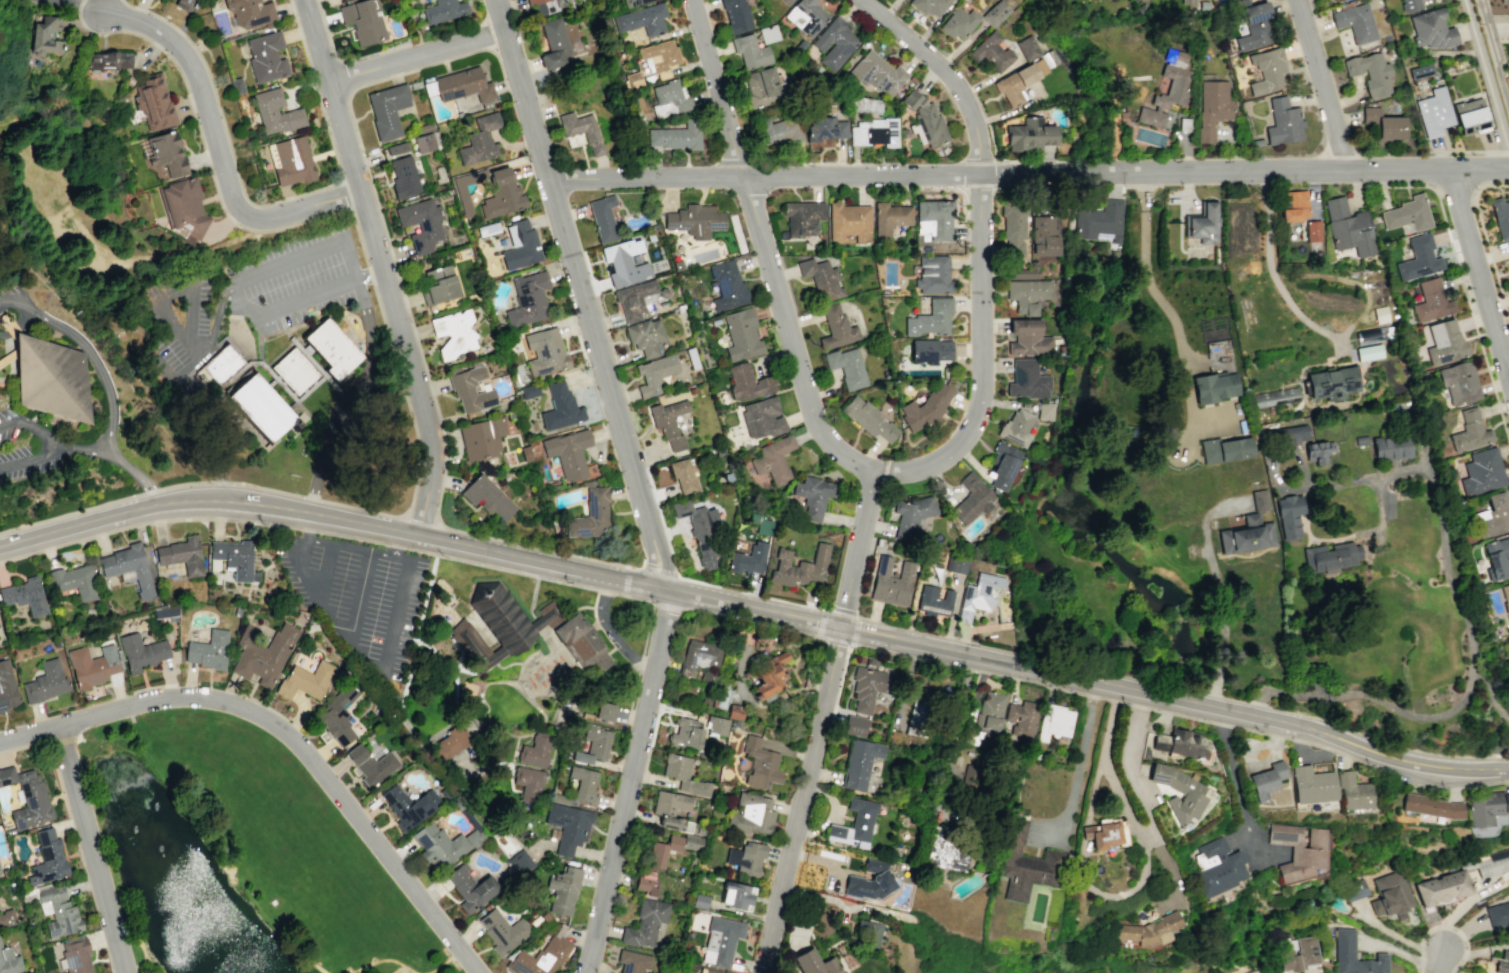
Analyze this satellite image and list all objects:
building: (1340, 0)
building: (1503, 0)
building: (633, 2)
building: (786, 2)
building: (1187, 2)
building: (184, 4)
building: (1409, 5)
road: (81, 6)
building: (540, 6)
building: (930, 7)
building: (444, 10)
building: (995, 11)
building: (250, 13)
building: (736, 15)
building: (806, 16)
building: (642, 19)
building: (363, 20)
building: (959, 21)
building: (1355, 22)
building: (1508, 23)
building: (1255, 24)
building: (1431, 29)
building: (47, 33)
building: (834, 43)
building: (554, 44)
building: (1028, 47)
road: (410, 51)
building: (750, 51)
building: (992, 51)
building: (1176, 52)
road: (1493, 54)
building: (659, 55)
building: (266, 57)
road: (419, 57)
building: (1050, 57)
road: (342, 59)
building: (109, 60)
building: (1040, 65)
building: (1268, 69)
building: (1419, 71)
building: (1370, 73)
building: (878, 74)
road: (344, 76)
road: (1486, 78)
building: (1016, 82)
road: (1318, 83)
building: (463, 85)
building: (763, 87)
building: (672, 95)
building: (1166, 98)
road: (335, 99)
building: (912, 99)
building: (154, 102)
building: (867, 104)
building: (1213, 108)
building: (386, 110)
building: (275, 112)
building: (1434, 112)
building: (1470, 116)
building: (1284, 121)
building: (931, 124)
building: (1383, 124)
building: (827, 126)
building: (581, 130)
building: (780, 131)
building: (876, 131)
building: (1030, 133)
building: (675, 136)
building: (480, 140)
building: (424, 143)
road: (219, 150)
building: (166, 153)
building: (290, 161)
building: (402, 169)
road: (1029, 174)
building: (501, 194)
road: (343, 195)
road: (261, 205)
building: (1294, 205)
building: (183, 208)
road: (335, 209)
road: (379, 212)
building: (1407, 214)
building: (603, 216)
building: (1500, 216)
building: (802, 217)
building: (889, 218)
building: (933, 219)
building: (694, 220)
building: (1101, 220)
building: (848, 223)
building: (1202, 223)
building: (421, 224)
building: (1015, 227)
building: (1313, 227)
building: (1348, 228)
building: (1045, 235)
building: (1172, 238)
building: (520, 246)
building: (1508, 246)
road: (981, 250)
building: (1418, 259)
building: (624, 262)
road: (381, 265)
road: (1269, 269)
building: (1023, 273)
building: (933, 274)
road: (1477, 274)
building: (820, 278)
building: (726, 284)
building: (438, 285)
road: (235, 289)
road: (582, 293)
building: (1028, 294)
parking lot: (251, 296)
building: (528, 298)
building: (634, 300)
building: (1431, 301)
road: (14, 302)
parking lot: (14, 308)
road: (1165, 310)
building: (1380, 314)
building: (930, 318)
road: (187, 323)
road: (787, 323)
building: (1024, 325)
building: (836, 327)
water tower: (119, 332)
building: (454, 332)
building: (741, 335)
building: (645, 336)
building: (1444, 342)
building: (1030, 344)
road: (259, 348)
building: (331, 348)
building: (546, 350)
building: (930, 350)
road: (303, 352)
building: (1368, 352)
building: (221, 363)
building: (847, 367)
road: (193, 368)
building: (294, 371)
building: (654, 374)
building: (47, 377)
building: (1028, 380)
road: (316, 381)
building: (747, 382)
building: (1331, 383)
building: (1459, 383)
building: (1213, 387)
building: (470, 389)
building: (530, 390)
road: (339, 393)
road: (344, 393)
road: (110, 395)
road: (143, 396)
building: (1275, 397)
road: (221, 402)
building: (260, 407)
building: (561, 407)
building: (925, 408)
building: (1045, 411)
building: (762, 418)
building: (868, 419)
building: (668, 423)
road: (301, 426)
building: (1016, 428)
building: (1469, 431)
building: (1289, 434)
building: (482, 437)
building: (1360, 440)
road: (54, 441)
parking lot: (50, 446)
building: (1391, 448)
building: (1224, 449)
building: (568, 451)
building: (1316, 452)
road: (30, 458)
building: (773, 459)
building: (1003, 464)
building: (1482, 472)
building: (684, 474)
road: (217, 481)
road: (266, 488)
building: (487, 496)
building: (813, 496)
road: (313, 498)
building: (972, 499)
building: (1259, 499)
road: (103, 503)
road: (114, 513)
road: (437, 513)
building: (591, 513)
road: (421, 514)
building: (912, 515)
building: (1289, 515)
building: (1492, 516)
road: (1130, 521)
road: (148, 523)
building: (761, 525)
road: (307, 530)
building: (702, 531)
building: (1246, 535)
road: (352, 538)
road: (397, 543)
road: (348, 546)
road: (397, 546)
road: (541, 548)
building: (183, 554)
building: (235, 557)
building: (1330, 557)
building: (1497, 558)
building: (748, 559)
building: (956, 564)
building: (128, 567)
building: (800, 567)
road: (658, 570)
road: (324, 572)
road: (520, 572)
road: (624, 580)
road: (692, 581)
building: (73, 582)
building: (891, 582)
road: (1457, 584)
road: (1217, 589)
road: (605, 592)
road: (696, 594)
building: (978, 595)
building: (26, 596)
road: (359, 596)
road: (531, 598)
building: (1505, 598)
parking lot: (357, 599)
building: (935, 601)
road: (581, 606)
road: (667, 606)
road: (651, 609)
road: (844, 610)
building: (165, 613)
road: (820, 624)
building: (499, 626)
road: (418, 629)
road: (855, 630)
road: (608, 632)
road: (834, 642)
building: (583, 644)
building: (209, 649)
building: (140, 651)
building: (261, 653)
road: (363, 656)
building: (700, 659)
building: (871, 661)
road: (639, 663)
building: (92, 665)
building: (769, 677)
building: (305, 680)
building: (45, 681)
building: (6, 686)
building: (872, 687)
road: (632, 699)
building: (737, 712)
building: (606, 713)
building: (989, 713)
building: (337, 714)
building: (1022, 719)
building: (918, 720)
building: (1053, 722)
building: (717, 725)
building: (854, 725)
building: (686, 733)
road: (1334, 734)
road: (288, 736)
road: (60, 740)
building: (456, 741)
building: (596, 741)
building: (1180, 743)
building: (535, 750)
building: (581, 757)
building: (760, 763)
building: (371, 764)
building: (860, 766)
road: (1079, 771)
building: (682, 774)
building: (971, 776)
road: (1234, 778)
road: (628, 780)
building: (527, 782)
building: (1265, 782)
building: (1312, 785)
building: (0, 786)
building: (580, 788)
road: (1093, 789)
building: (1179, 791)
road: (61, 792)
building: (1353, 792)
building: (27, 798)
road: (802, 799)
building: (408, 805)
building: (1432, 807)
building: (1485, 808)
building: (672, 811)
building: (751, 814)
building: (854, 824)
building: (567, 826)
building: (1105, 833)
road: (1146, 843)
building: (443, 844)
road: (92, 848)
building: (1299, 850)
building: (944, 851)
park: (238, 855)
building: (47, 858)
building: (662, 858)
building: (746, 858)
building: (1025, 863)
building: (1489, 863)
building: (521, 864)
building: (1217, 867)
road: (1172, 879)
building: (869, 881)
building: (470, 887)
building: (1443, 889)
building: (562, 890)
road: (1134, 891)
building: (1358, 894)
building: (736, 895)
building: (1391, 895)
road: (1463, 905)
building: (57, 913)
building: (1498, 915)
building: (7, 917)
building: (645, 923)
road: (1445, 926)
building: (502, 930)
building: (1149, 930)
building: (867, 931)
road: (1397, 935)
building: (721, 940)
building: (0, 946)
road: (141, 948)
road: (1400, 951)
building: (1354, 955)
building: (75, 956)
building: (540, 956)
building: (1299, 956)
road: (384, 960)
building: (632, 961)
building: (9, 962)
road: (441, 962)
road: (1440, 962)
building: (814, 963)
building: (1503, 964)
road: (315, 965)
road: (473, 971)
building: (709, 971)

